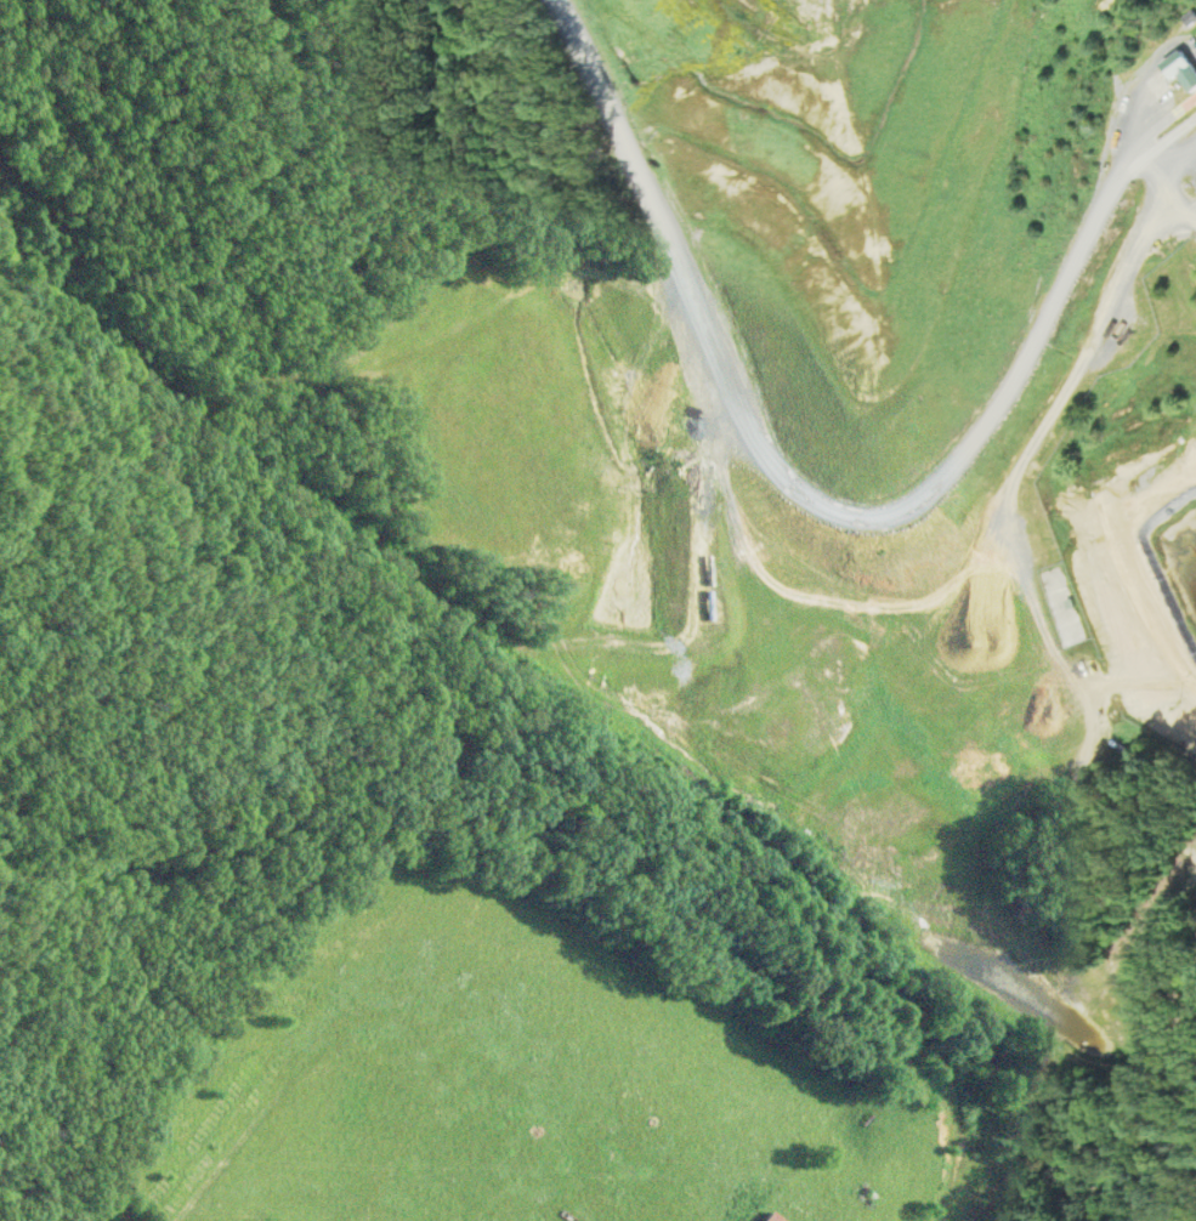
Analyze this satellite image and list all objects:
building: (1188, 16)
building: (1180, 69)
road: (1163, 186)
building: (1116, 337)
road: (832, 506)
building: (776, 1216)

